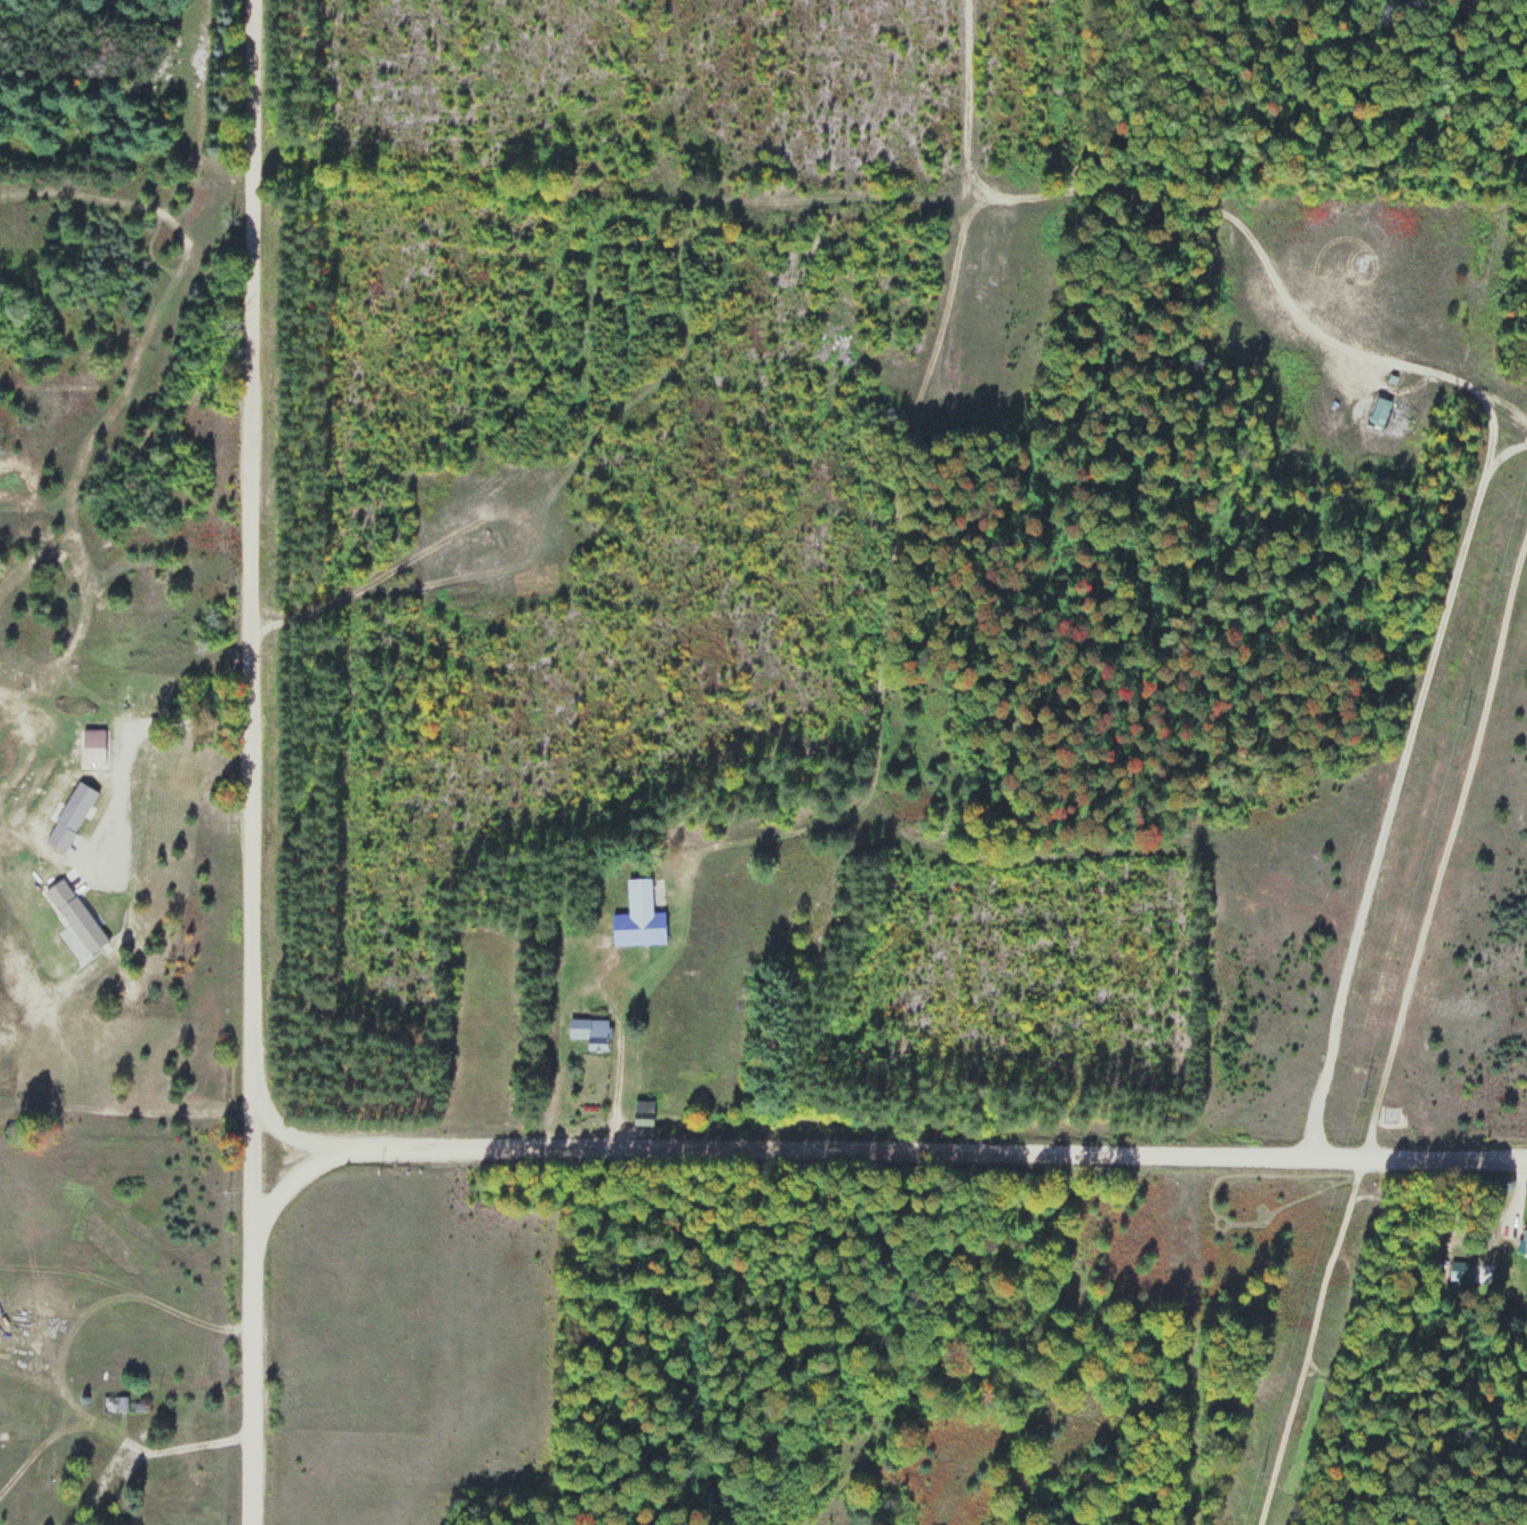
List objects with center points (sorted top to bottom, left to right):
road: (1116, 198)
road: (1408, 366)
road: (1396, 388)
road: (1487, 403)
building: (1380, 410)
building: (93, 750)
road: (249, 762)
road: (1390, 806)
building: (69, 826)
building: (639, 918)
building: (591, 1032)
building: (643, 1113)
road: (889, 1153)
building: (1524, 1240)
building: (1461, 1270)
building: (115, 1404)
building: (104, 1477)

